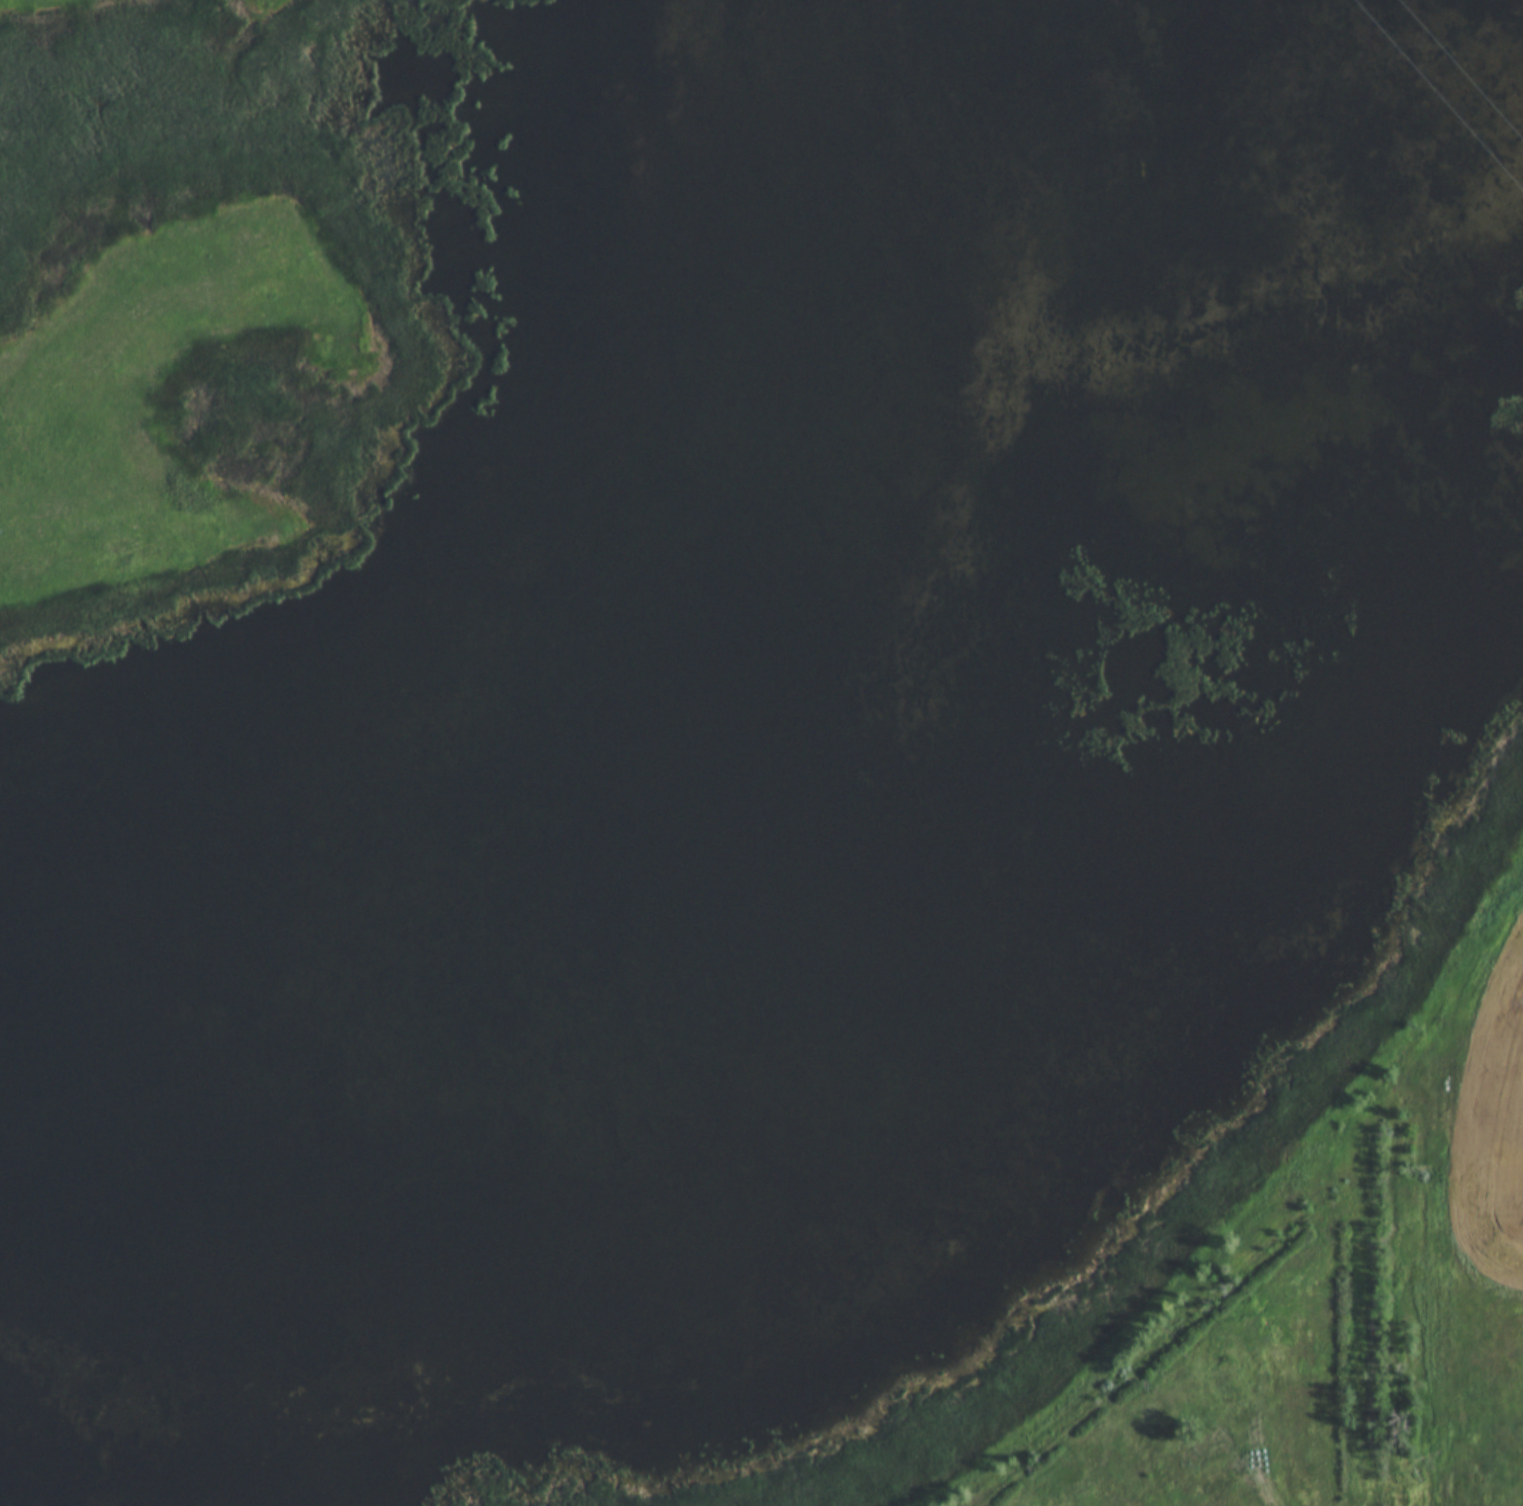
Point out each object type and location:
building: (1227, 1385)
building: (1207, 1448)
road: (1257, 1470)

